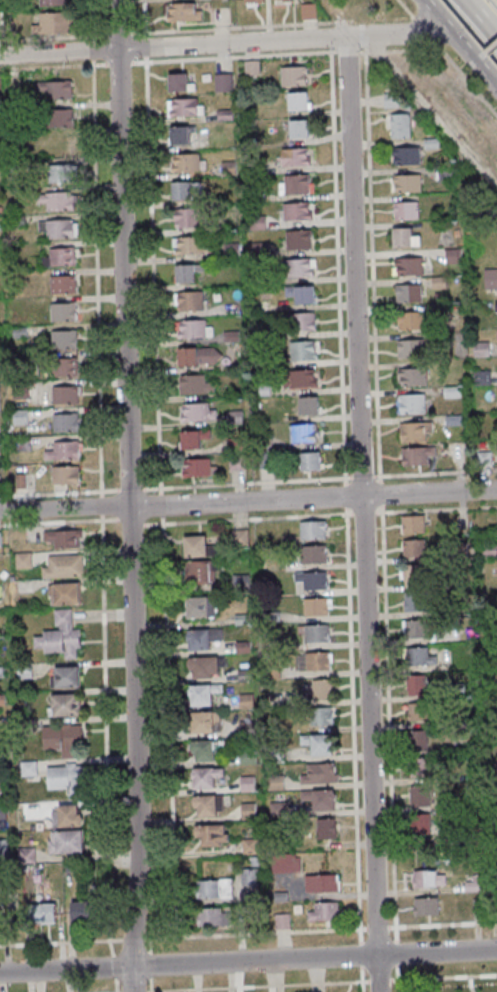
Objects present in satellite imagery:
building: (283, 0)
building: (258, 1)
building: (53, 2)
building: (181, 11)
building: (306, 11)
road: (88, 18)
building: (51, 22)
road: (473, 27)
road: (218, 28)
road: (448, 30)
road: (115, 35)
road: (44, 38)
road: (224, 44)
road: (490, 47)
road: (89, 50)
road: (478, 57)
road: (447, 58)
building: (249, 67)
road: (466, 67)
road: (485, 74)
building: (291, 75)
building: (175, 80)
building: (221, 82)
building: (53, 88)
building: (388, 99)
building: (296, 101)
building: (184, 107)
building: (57, 117)
road: (430, 118)
building: (398, 125)
building: (297, 128)
building: (178, 133)
building: (428, 142)
building: (61, 145)
building: (405, 155)
building: (293, 157)
building: (185, 162)
building: (14, 165)
building: (254, 167)
building: (226, 168)
building: (58, 172)
building: (444, 173)
building: (405, 182)
building: (294, 185)
building: (183, 190)
building: (255, 194)
building: (55, 200)
building: (403, 209)
building: (295, 211)
building: (185, 217)
building: (16, 221)
building: (255, 222)
building: (55, 228)
building: (403, 236)
building: (296, 239)
building: (190, 245)
building: (257, 250)
building: (230, 251)
building: (451, 255)
building: (57, 257)
building: (407, 265)
building: (295, 267)
building: (185, 271)
building: (489, 279)
building: (257, 280)
road: (95, 282)
building: (436, 282)
building: (60, 284)
building: (299, 292)
building: (406, 292)
building: (188, 301)
building: (495, 306)
building: (61, 311)
building: (408, 320)
building: (300, 321)
building: (193, 329)
building: (17, 331)
building: (495, 334)
building: (260, 335)
building: (229, 337)
building: (61, 338)
building: (444, 338)
building: (408, 348)
building: (301, 349)
building: (479, 350)
building: (196, 356)
building: (57, 365)
building: (410, 377)
building: (480, 378)
building: (298, 379)
building: (193, 384)
building: (260, 390)
building: (18, 391)
building: (450, 392)
building: (63, 394)
building: (409, 404)
building: (306, 405)
building: (195, 412)
building: (18, 417)
building: (232, 418)
building: (451, 420)
building: (63, 422)
building: (413, 431)
building: (301, 433)
building: (192, 438)
building: (262, 443)
building: (20, 444)
building: (234, 444)
building: (60, 450)
building: (415, 455)
building: (482, 459)
building: (263, 460)
building: (308, 460)
building: (234, 461)
building: (196, 467)
building: (63, 475)
building: (18, 481)
road: (128, 496)
road: (248, 501)
road: (362, 514)
building: (496, 519)
building: (410, 524)
building: (310, 529)
building: (62, 538)
building: (237, 539)
building: (196, 546)
building: (411, 548)
building: (487, 550)
building: (455, 553)
building: (311, 554)
building: (21, 560)
building: (61, 566)
building: (200, 571)
building: (409, 573)
building: (310, 580)
building: (238, 582)
building: (62, 592)
building: (412, 601)
building: (198, 606)
building: (314, 607)
building: (454, 610)
building: (269, 617)
building: (240, 620)
building: (413, 628)
building: (313, 633)
building: (58, 635)
building: (201, 638)
building: (241, 647)
building: (415, 656)
building: (316, 661)
building: (492, 664)
building: (203, 666)
building: (23, 671)
building: (270, 674)
building: (243, 676)
building: (62, 677)
building: (414, 685)
building: (319, 689)
building: (455, 690)
building: (201, 693)
building: (1, 699)
building: (244, 701)
building: (63, 704)
building: (419, 711)
building: (318, 715)
building: (201, 722)
building: (24, 726)
building: (245, 729)
building: (61, 738)
building: (415, 740)
building: (316, 743)
building: (205, 748)
building: (274, 755)
building: (245, 756)
building: (417, 766)
building: (27, 768)
building: (491, 770)
building: (317, 773)
building: (203, 777)
building: (65, 778)
building: (273, 783)
building: (0, 784)
building: (245, 784)
building: (417, 795)
building: (318, 798)
building: (491, 801)
building: (205, 804)
building: (275, 809)
building: (1, 811)
building: (246, 811)
building: (63, 816)
building: (418, 823)
building: (492, 826)
building: (324, 828)
building: (209, 834)
building: (63, 841)
building: (247, 846)
building: (3, 847)
building: (24, 856)
building: (252, 860)
building: (283, 863)
building: (67, 868)
building: (247, 877)
building: (424, 878)
building: (318, 883)
building: (470, 884)
building: (491, 885)
building: (213, 888)
building: (277, 896)
building: (423, 905)
building: (475, 906)
building: (82, 910)
building: (322, 911)
building: (40, 912)
building: (211, 917)
building: (280, 921)
road: (248, 961)
road: (472, 984)
park: (452, 986)

